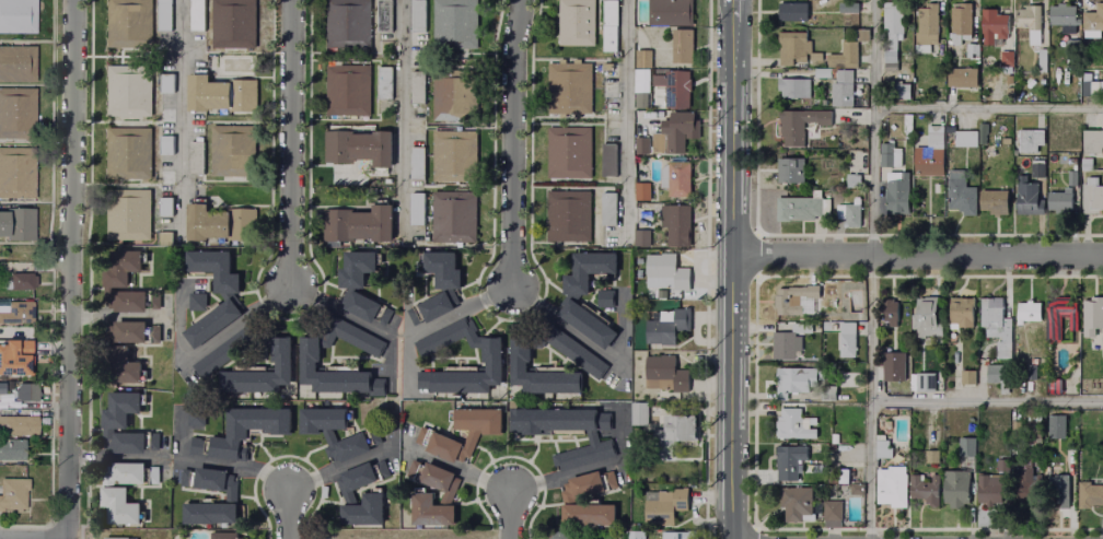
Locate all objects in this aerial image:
building: (846, 7)
building: (790, 10)
building: (669, 13)
building: (1060, 15)
building: (162, 16)
building: (196, 16)
building: (416, 17)
building: (18, 19)
building: (385, 19)
building: (1092, 20)
building: (1029, 21)
building: (346, 22)
building: (926, 22)
building: (125, 23)
building: (234, 23)
building: (455, 23)
building: (576, 23)
building: (893, 24)
building: (960, 24)
building: (990, 24)
building: (611, 25)
building: (682, 46)
building: (1070, 46)
building: (794, 47)
building: (971, 48)
road: (872, 55)
building: (843, 56)
building: (643, 60)
building: (1005, 60)
building: (890, 62)
building: (19, 63)
building: (606, 68)
building: (960, 77)
building: (163, 82)
building: (1089, 82)
building: (384, 84)
building: (791, 86)
building: (418, 87)
building: (839, 87)
building: (570, 89)
building: (675, 89)
building: (348, 91)
building: (125, 92)
building: (902, 92)
building: (219, 95)
building: (452, 97)
building: (642, 101)
road: (179, 113)
building: (14, 114)
building: (163, 114)
road: (399, 117)
road: (625, 118)
building: (797, 124)
building: (907, 124)
building: (982, 131)
building: (680, 137)
building: (933, 138)
building: (965, 139)
road: (291, 141)
building: (1029, 141)
building: (1091, 141)
road: (511, 143)
building: (163, 144)
building: (641, 145)
building: (359, 149)
building: (231, 152)
building: (131, 154)
building: (571, 154)
building: (454, 155)
building: (886, 155)
building: (608, 160)
building: (1070, 161)
building: (415, 162)
building: (928, 163)
building: (1087, 165)
building: (1038, 166)
building: (788, 168)
building: (16, 173)
building: (162, 176)
building: (1073, 177)
building: (678, 179)
building: (850, 179)
building: (643, 191)
building: (897, 191)
building: (960, 192)
building: (1026, 198)
building: (1092, 200)
building: (994, 202)
building: (1054, 202)
building: (165, 208)
building: (414, 209)
building: (608, 209)
building: (798, 209)
road: (872, 210)
building: (848, 213)
building: (125, 214)
building: (567, 215)
building: (453, 218)
building: (15, 224)
building: (217, 224)
building: (358, 225)
building: (676, 225)
building: (162, 237)
building: (642, 239)
road: (917, 257)
building: (659, 265)
road: (69, 269)
building: (357, 269)
building: (442, 269)
road: (731, 269)
building: (216, 270)
building: (588, 272)
building: (681, 278)
building: (22, 279)
building: (125, 283)
building: (857, 284)
road: (525, 297)
building: (605, 298)
building: (792, 300)
building: (198, 303)
building: (369, 309)
building: (430, 309)
building: (890, 313)
building: (18, 314)
building: (961, 314)
building: (1030, 314)
building: (1092, 316)
building: (925, 319)
road: (358, 320)
building: (213, 325)
building: (1055, 325)
building: (588, 326)
building: (996, 326)
building: (665, 327)
building: (802, 328)
building: (129, 331)
building: (155, 333)
building: (847, 341)
road: (209, 343)
building: (780, 347)
building: (228, 350)
building: (576, 352)
building: (491, 354)
building: (310, 355)
building: (15, 358)
building: (125, 367)
building: (893, 367)
building: (260, 373)
building: (1032, 373)
building: (539, 374)
building: (664, 375)
building: (968, 378)
building: (998, 378)
building: (796, 383)
building: (924, 384)
building: (1054, 387)
building: (2, 389)
building: (891, 390)
building: (26, 391)
building: (827, 396)
road: (987, 402)
building: (638, 413)
building: (118, 415)
building: (195, 418)
building: (479, 421)
building: (794, 425)
building: (19, 426)
building: (1030, 427)
building: (1056, 427)
building: (682, 429)
building: (1014, 431)
building: (242, 433)
building: (568, 433)
building: (358, 440)
building: (835, 440)
building: (152, 441)
building: (129, 443)
building: (936, 443)
building: (442, 446)
building: (966, 448)
building: (12, 449)
building: (883, 449)
building: (931, 457)
road: (212, 462)
building: (790, 462)
building: (1001, 464)
road: (456, 470)
road: (584, 470)
building: (127, 474)
building: (832, 477)
building: (431, 478)
building: (845, 478)
building: (361, 479)
building: (208, 481)
building: (609, 481)
building: (1021, 481)
building: (583, 485)
building: (892, 487)
building: (956, 490)
building: (926, 491)
building: (988, 491)
building: (15, 492)
building: (855, 492)
building: (1058, 493)
building: (1090, 493)
building: (796, 504)
building: (119, 507)
building: (665, 507)
building: (364, 512)
building: (431, 513)
building: (211, 514)
building: (832, 514)
road: (286, 515)
road: (507, 515)
building: (589, 515)
building: (634, 535)
road: (176, 536)
building: (220, 536)
building: (558, 536)
building: (675, 536)
building: (119, 538)
road: (618, 538)

